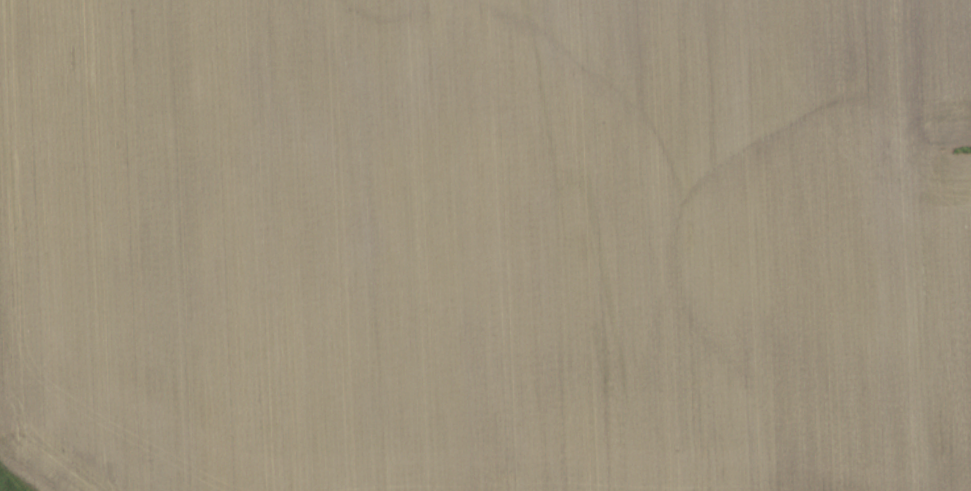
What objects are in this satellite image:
crop: (486, 245)

